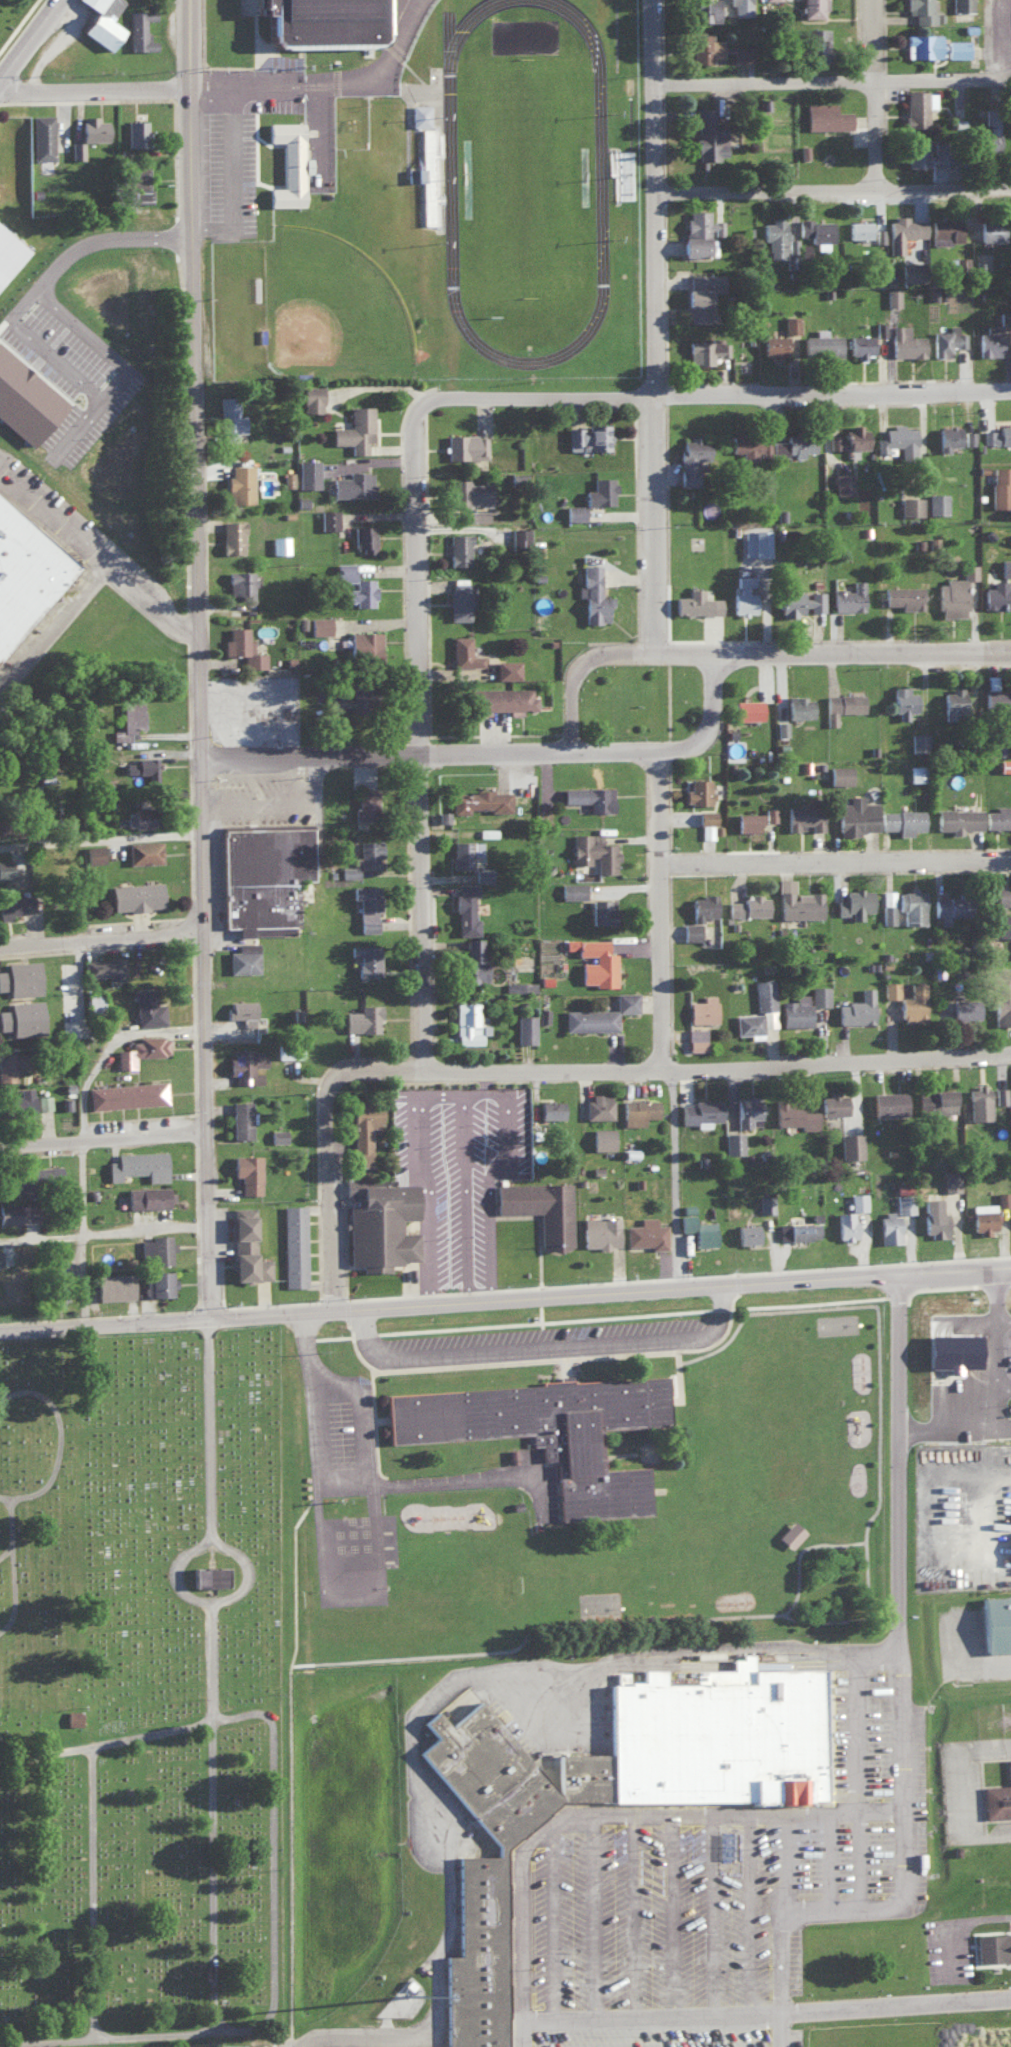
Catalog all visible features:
building: (961, 5)
building: (740, 7)
building: (813, 8)
building: (704, 10)
building: (924, 12)
building: (101, 22)
building: (321, 22)
park: (17, 23)
building: (140, 30)
road: (27, 37)
building: (816, 42)
road: (985, 42)
building: (924, 43)
building: (705, 47)
building: (957, 48)
building: (736, 51)
road: (335, 86)
road: (837, 86)
road: (94, 93)
road: (886, 96)
building: (917, 107)
building: (827, 113)
building: (419, 114)
building: (92, 128)
building: (135, 133)
building: (707, 135)
building: (987, 135)
building: (42, 137)
building: (76, 150)
building: (924, 153)
building: (287, 164)
building: (427, 174)
track: (450, 177)
park: (526, 177)
road: (230, 178)
building: (138, 183)
road: (838, 193)
building: (815, 227)
building: (859, 229)
building: (947, 229)
building: (903, 231)
building: (990, 231)
building: (700, 233)
building: (879, 235)
road: (104, 237)
building: (774, 237)
building: (8, 253)
building: (956, 264)
building: (909, 271)
building: (701, 293)
building: (892, 297)
park: (341, 308)
building: (791, 323)
road: (666, 327)
building: (880, 327)
building: (989, 340)
building: (955, 343)
building: (773, 344)
building: (860, 344)
building: (904, 345)
building: (823, 346)
building: (708, 351)
road: (99, 393)
road: (762, 396)
building: (312, 397)
building: (24, 398)
building: (227, 415)
building: (355, 426)
building: (994, 433)
building: (589, 435)
building: (845, 435)
building: (896, 435)
building: (948, 435)
building: (968, 436)
building: (746, 443)
building: (793, 443)
building: (467, 445)
building: (694, 458)
building: (306, 472)
building: (286, 478)
building: (239, 481)
building: (842, 482)
building: (351, 483)
building: (1000, 484)
building: (468, 491)
building: (599, 494)
building: (937, 502)
building: (910, 505)
building: (574, 511)
building: (477, 514)
building: (328, 518)
building: (363, 536)
building: (231, 537)
building: (519, 538)
building: (761, 539)
building: (279, 543)
building: (459, 546)
road: (100, 559)
building: (1005, 566)
building: (343, 570)
building: (26, 575)
building: (591, 581)
building: (240, 582)
building: (359, 591)
building: (745, 594)
building: (847, 595)
building: (999, 595)
building: (901, 596)
building: (952, 596)
building: (697, 600)
building: (798, 600)
building: (459, 601)
building: (319, 624)
road: (56, 632)
building: (242, 647)
building: (365, 650)
building: (461, 650)
road: (838, 654)
road: (207, 661)
building: (506, 668)
road: (587, 671)
road: (425, 693)
building: (346, 697)
building: (498, 697)
building: (997, 698)
building: (902, 701)
building: (954, 703)
building: (798, 706)
building: (843, 706)
building: (749, 710)
building: (131, 716)
road: (721, 724)
building: (781, 727)
building: (919, 741)
road: (437, 754)
building: (997, 756)
building: (142, 767)
building: (917, 771)
building: (839, 773)
building: (699, 791)
building: (587, 797)
building: (482, 799)
building: (365, 801)
building: (855, 814)
building: (442, 815)
building: (139, 816)
building: (705, 816)
building: (804, 817)
building: (997, 818)
building: (753, 819)
building: (957, 821)
building: (903, 824)
building: (707, 830)
road: (99, 836)
building: (591, 849)
building: (143, 851)
building: (367, 851)
building: (65, 852)
building: (477, 852)
building: (93, 853)
road: (840, 863)
building: (7, 868)
building: (349, 870)
building: (482, 873)
building: (262, 876)
building: (591, 889)
building: (1002, 894)
building: (135, 895)
building: (853, 901)
building: (363, 902)
building: (746, 903)
building: (799, 904)
building: (905, 904)
building: (14, 905)
building: (703, 906)
building: (463, 907)
building: (954, 907)
building: (601, 910)
road: (669, 910)
building: (1001, 926)
building: (690, 930)
road: (99, 938)
building: (593, 953)
building: (242, 957)
building: (364, 960)
building: (472, 960)
building: (104, 967)
building: (19, 978)
building: (519, 986)
building: (891, 988)
building: (763, 994)
building: (818, 995)
building: (93, 1000)
road: (79, 1001)
building: (913, 1003)
building: (1002, 1005)
building: (147, 1007)
building: (239, 1007)
building: (702, 1007)
building: (963, 1009)
building: (802, 1010)
building: (856, 1011)
building: (542, 1014)
building: (20, 1018)
building: (362, 1018)
building: (595, 1020)
building: (476, 1023)
building: (749, 1024)
building: (524, 1028)
building: (696, 1038)
building: (141, 1049)
building: (293, 1049)
building: (252, 1064)
building: (9, 1065)
road: (721, 1066)
building: (134, 1094)
building: (999, 1095)
building: (887, 1100)
building: (935, 1100)
building: (20, 1101)
building: (44, 1101)
building: (978, 1102)
building: (832, 1103)
building: (598, 1104)
building: (550, 1107)
building: (746, 1110)
building: (699, 1112)
building: (637, 1113)
building: (792, 1116)
building: (241, 1117)
building: (362, 1130)
road: (82, 1134)
building: (277, 1135)
building: (602, 1137)
road: (103, 1138)
building: (733, 1142)
building: (850, 1145)
road: (335, 1152)
building: (135, 1166)
building: (47, 1172)
building: (247, 1174)
building: (950, 1180)
road: (673, 1181)
building: (11, 1182)
road: (439, 1190)
building: (1002, 1197)
building: (149, 1200)
building: (857, 1200)
building: (901, 1203)
building: (763, 1206)
building: (540, 1208)
building: (25, 1210)
building: (934, 1214)
building: (982, 1217)
building: (380, 1223)
building: (846, 1226)
building: (891, 1227)
building: (797, 1229)
building: (601, 1231)
road: (103, 1232)
building: (645, 1232)
building: (746, 1232)
building: (705, 1233)
building: (242, 1243)
building: (293, 1244)
building: (158, 1250)
building: (160, 1281)
building: (119, 1284)
road: (615, 1297)
road: (109, 1326)
road: (554, 1351)
building: (562, 1430)
road: (220, 1433)
road: (70, 1445)
road: (362, 1485)
building: (790, 1534)
road: (23, 1543)
building: (222, 1577)
road: (24, 1603)
building: (1003, 1622)
road: (964, 1668)
road: (500, 1678)
road: (557, 1693)
park: (150, 1695)
road: (911, 1699)
building: (72, 1716)
road: (221, 1716)
building: (731, 1735)
road: (866, 1736)
building: (501, 1775)
building: (596, 1776)
road: (972, 1791)
building: (1003, 1801)
road: (890, 1816)
road: (596, 1819)
road: (870, 1861)
road: (841, 1862)
road: (799, 1865)
road: (284, 1868)
parking lot: (720, 1893)
road: (105, 1896)
road: (761, 1917)
road: (683, 1918)
road: (721, 1918)
road: (645, 1919)
road: (601, 1920)
road: (984, 1923)
road: (564, 1926)
building: (999, 1950)
road: (961, 1954)
building: (491, 1955)
road: (1008, 1999)
road: (892, 2007)
road: (655, 2019)
road: (780, 2030)
road: (378, 2039)
building: (234, 2045)

